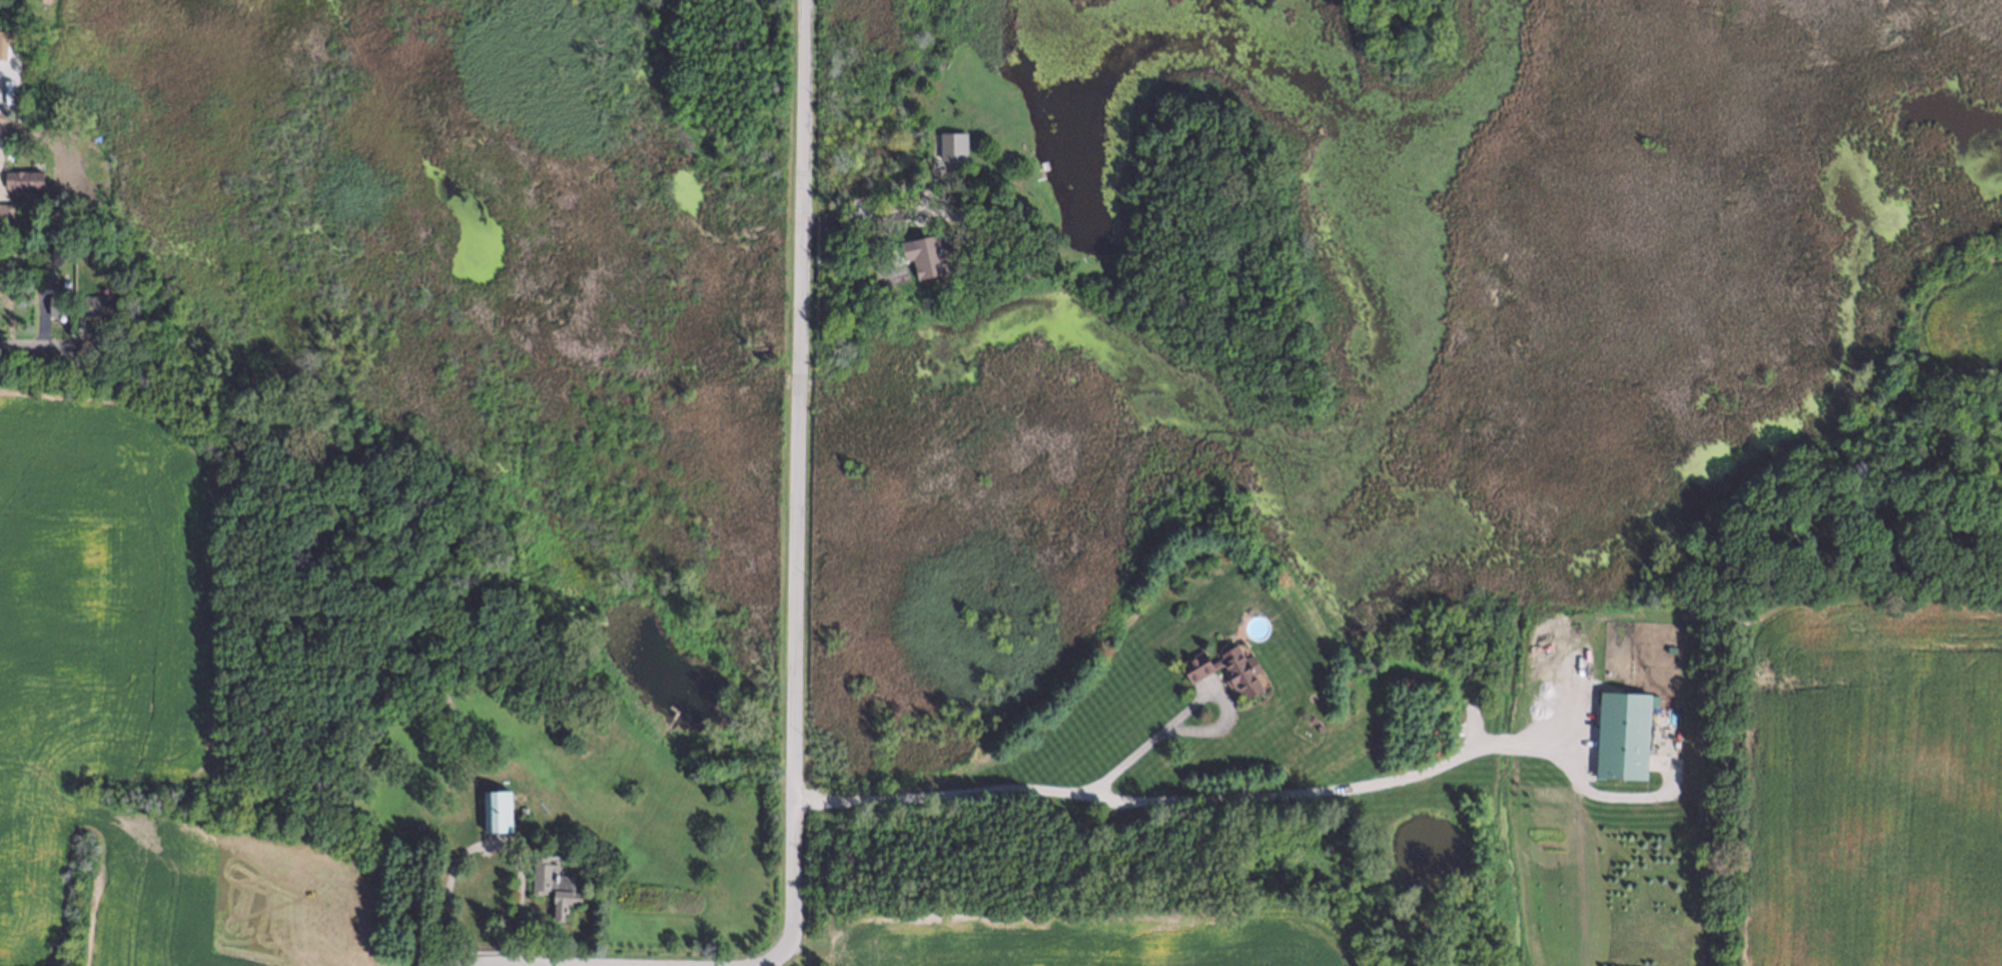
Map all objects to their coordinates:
road: (1, 132)
building: (22, 175)
building: (5, 218)
road: (852, 227)
building: (49, 233)
building: (77, 247)
building: (44, 281)
building: (90, 304)
building: (57, 305)
road: (40, 348)
road: (795, 466)
building: (1220, 667)
road: (1188, 711)
building: (1310, 718)
building: (1317, 726)
building: (1622, 734)
road: (1180, 798)
building: (495, 808)
building: (521, 810)
road: (484, 846)
building: (552, 891)
road: (786, 954)
road: (490, 965)
road: (538, 965)

